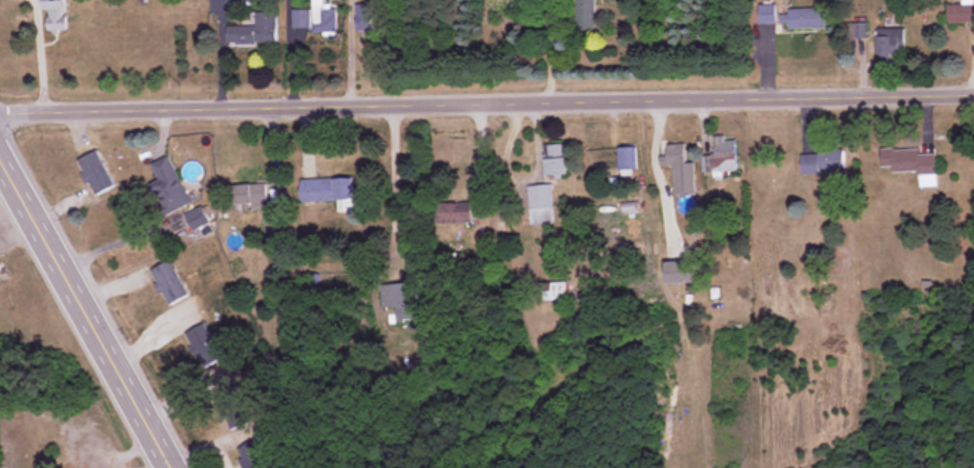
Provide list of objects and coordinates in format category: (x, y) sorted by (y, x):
building: (961, 12)
building: (55, 14)
building: (585, 14)
building: (363, 16)
building: (794, 16)
building: (314, 19)
building: (255, 31)
building: (856, 31)
building: (891, 43)
road: (40, 55)
road: (486, 102)
building: (720, 156)
building: (626, 158)
building: (556, 160)
building: (821, 162)
building: (678, 164)
building: (911, 164)
building: (95, 173)
road: (659, 173)
building: (170, 186)
building: (327, 190)
building: (251, 195)
building: (540, 205)
building: (451, 212)
building: (199, 217)
building: (680, 272)
building: (2, 274)
building: (168, 283)
building: (555, 291)
road: (85, 312)
building: (203, 346)
building: (233, 408)
building: (253, 455)

